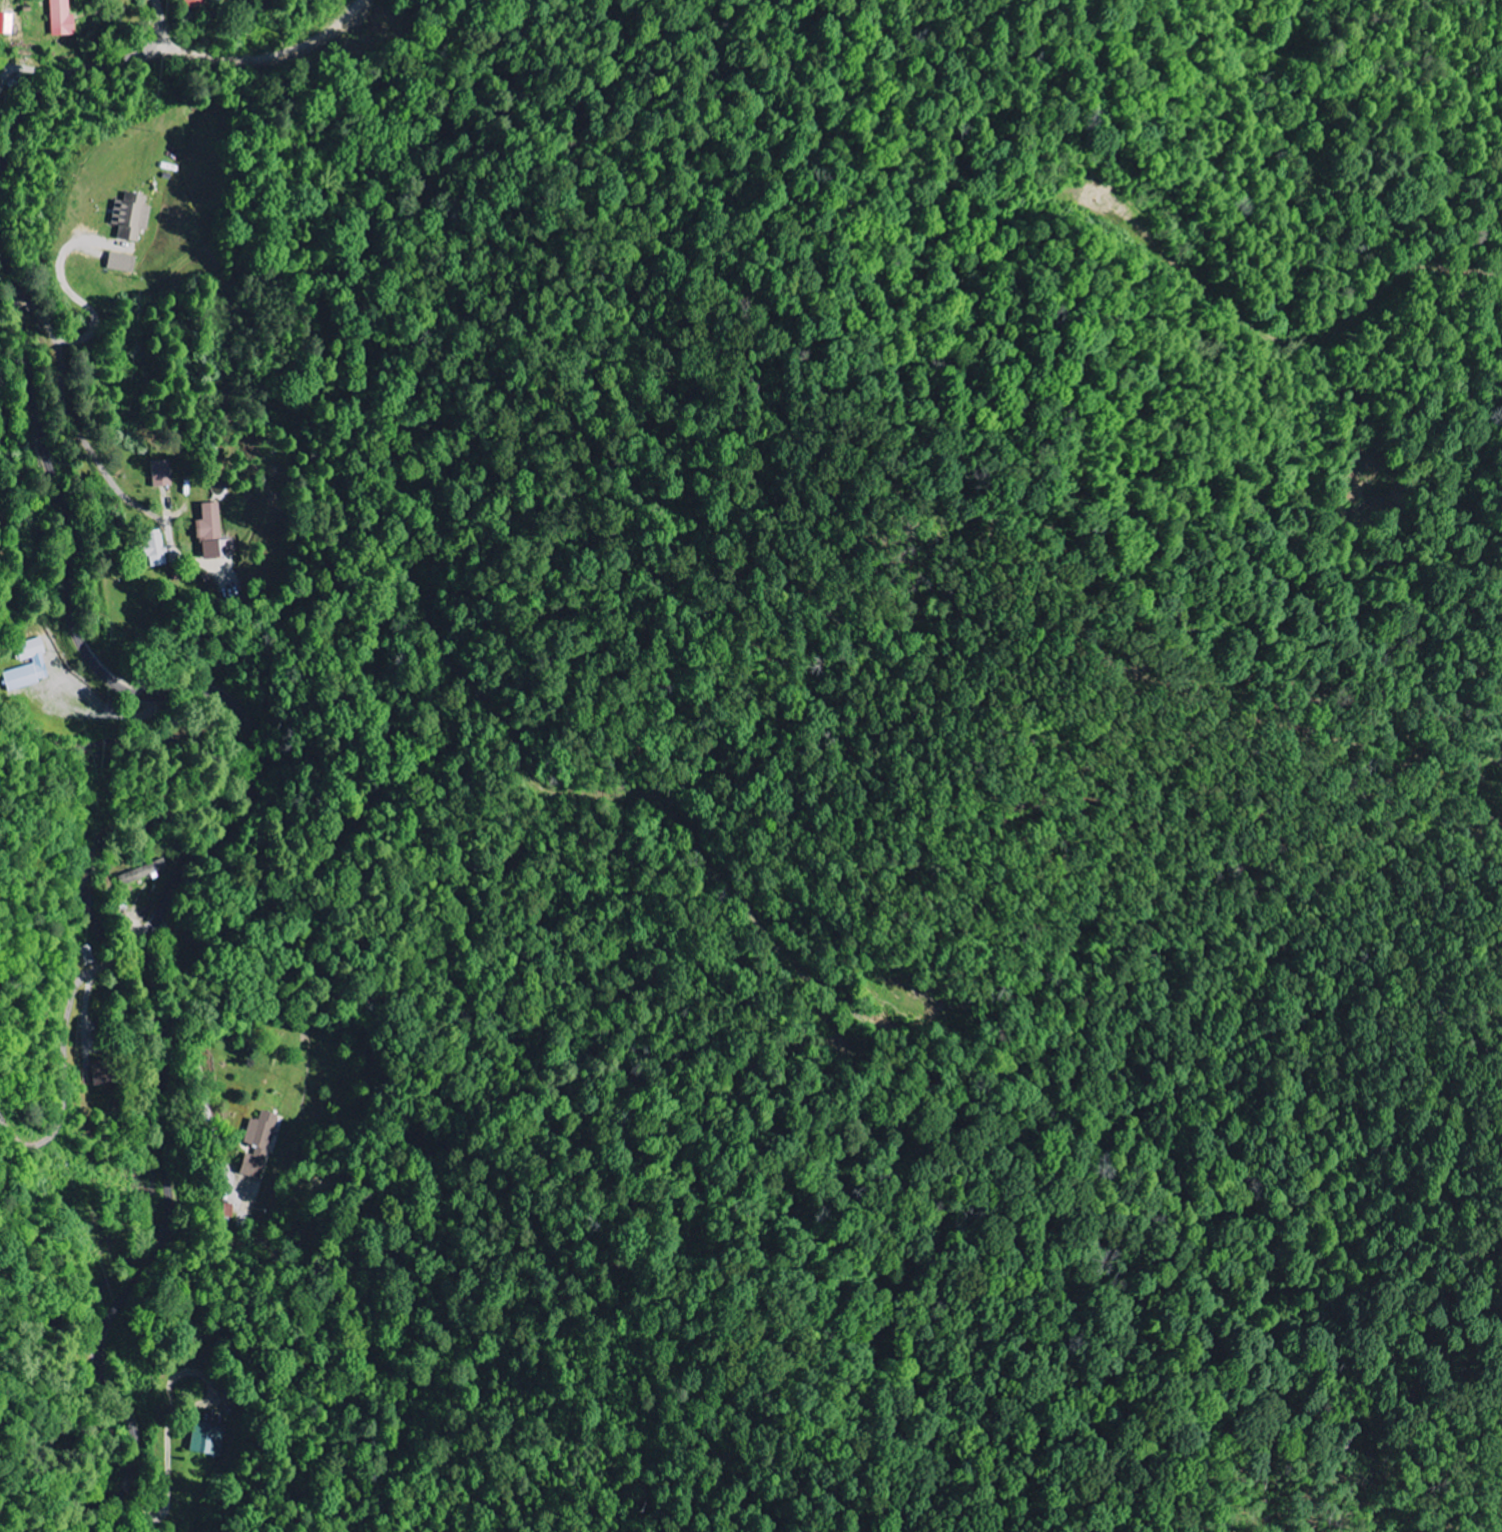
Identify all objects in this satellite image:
building: (196, 4)
building: (64, 19)
road: (89, 69)
building: (0, 85)
road: (5, 155)
road: (4, 163)
building: (133, 216)
building: (124, 263)
building: (163, 474)
building: (215, 535)
building: (29, 667)
road: (212, 844)
building: (143, 872)
road: (68, 1033)
building: (102, 1073)
building: (261, 1145)
building: (209, 1439)

